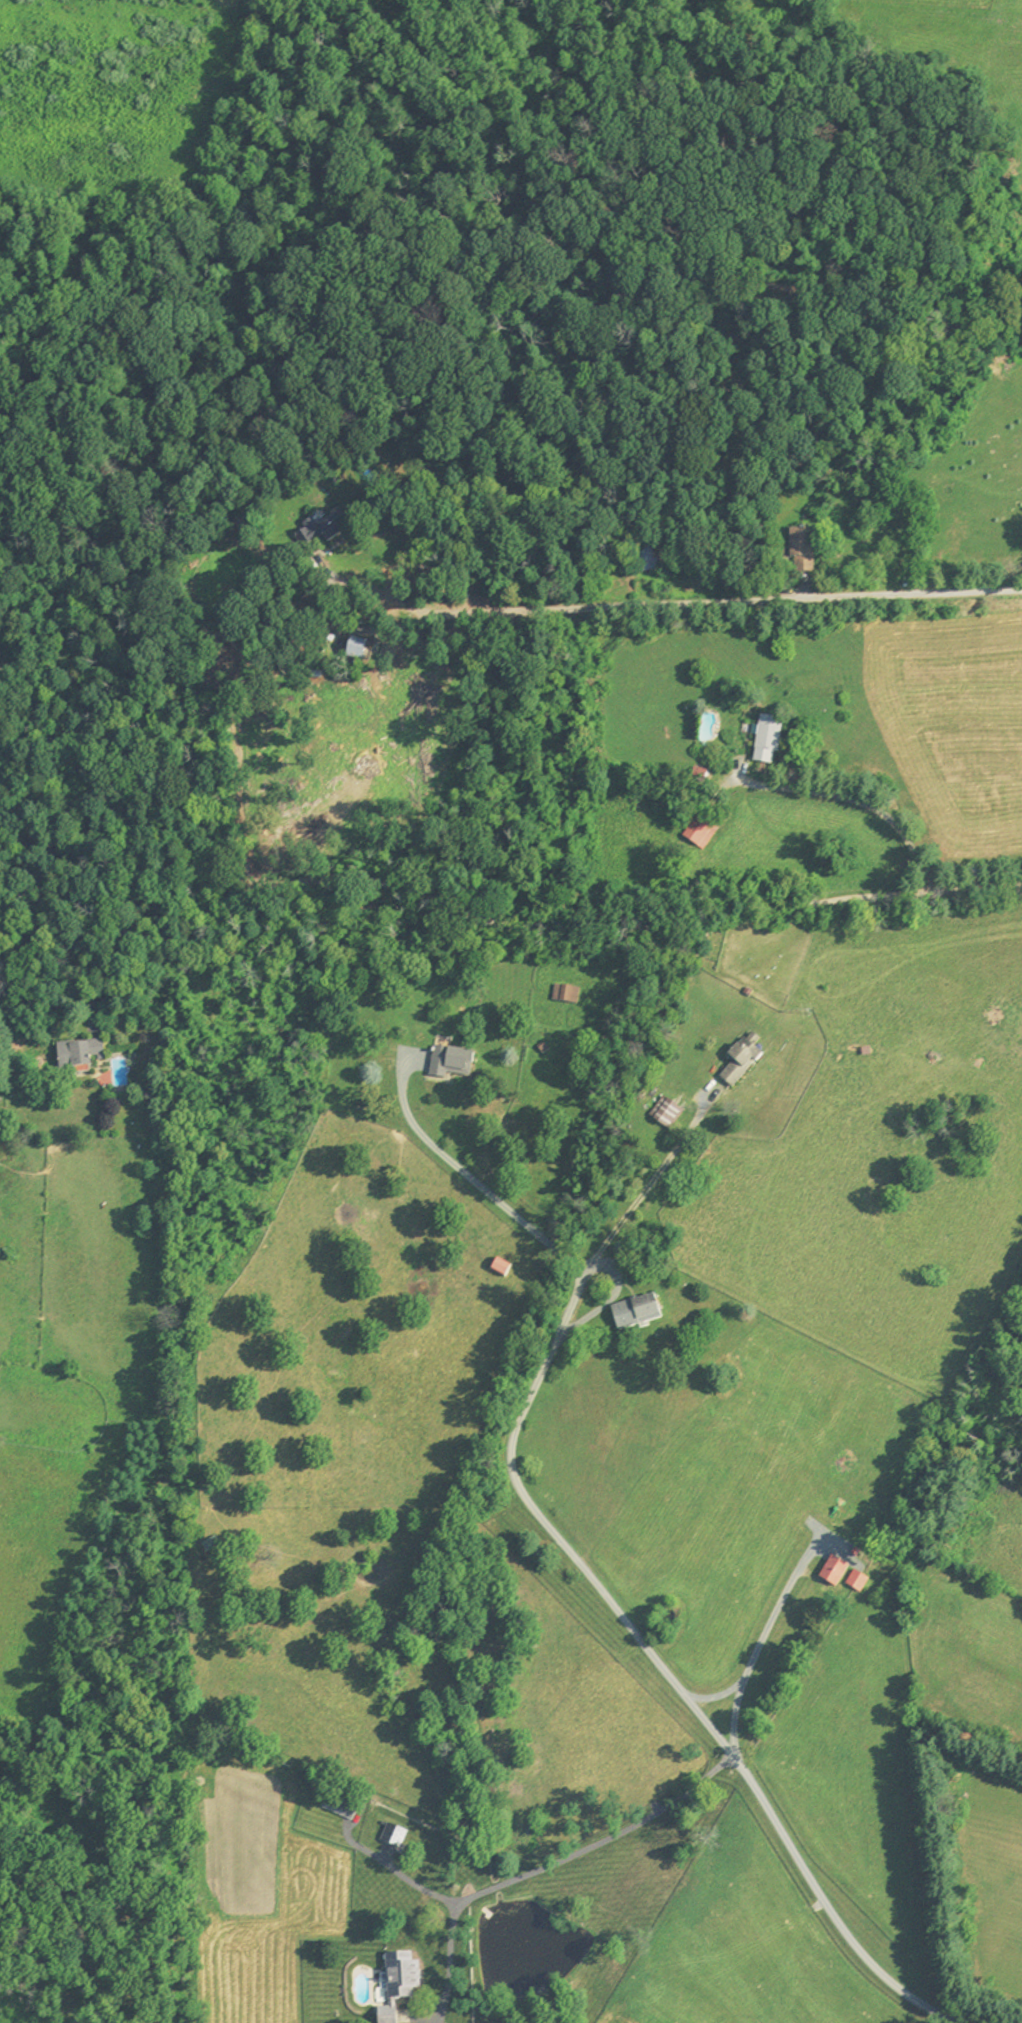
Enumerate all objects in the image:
building: (325, 531)
building: (806, 551)
building: (649, 558)
road: (694, 603)
building: (361, 651)
building: (773, 739)
road: (863, 802)
road: (503, 927)
building: (569, 995)
building: (82, 1054)
building: (456, 1063)
building: (744, 1063)
road: (474, 1179)
road: (590, 1261)
building: (505, 1269)
building: (640, 1313)
building: (213, 1547)
building: (837, 1572)
building: (859, 1582)
road: (777, 1608)
road: (737, 1689)
road: (719, 1745)
building: (341, 1810)
building: (396, 1837)
road: (541, 1869)
road: (399, 1872)
building: (403, 1986)

